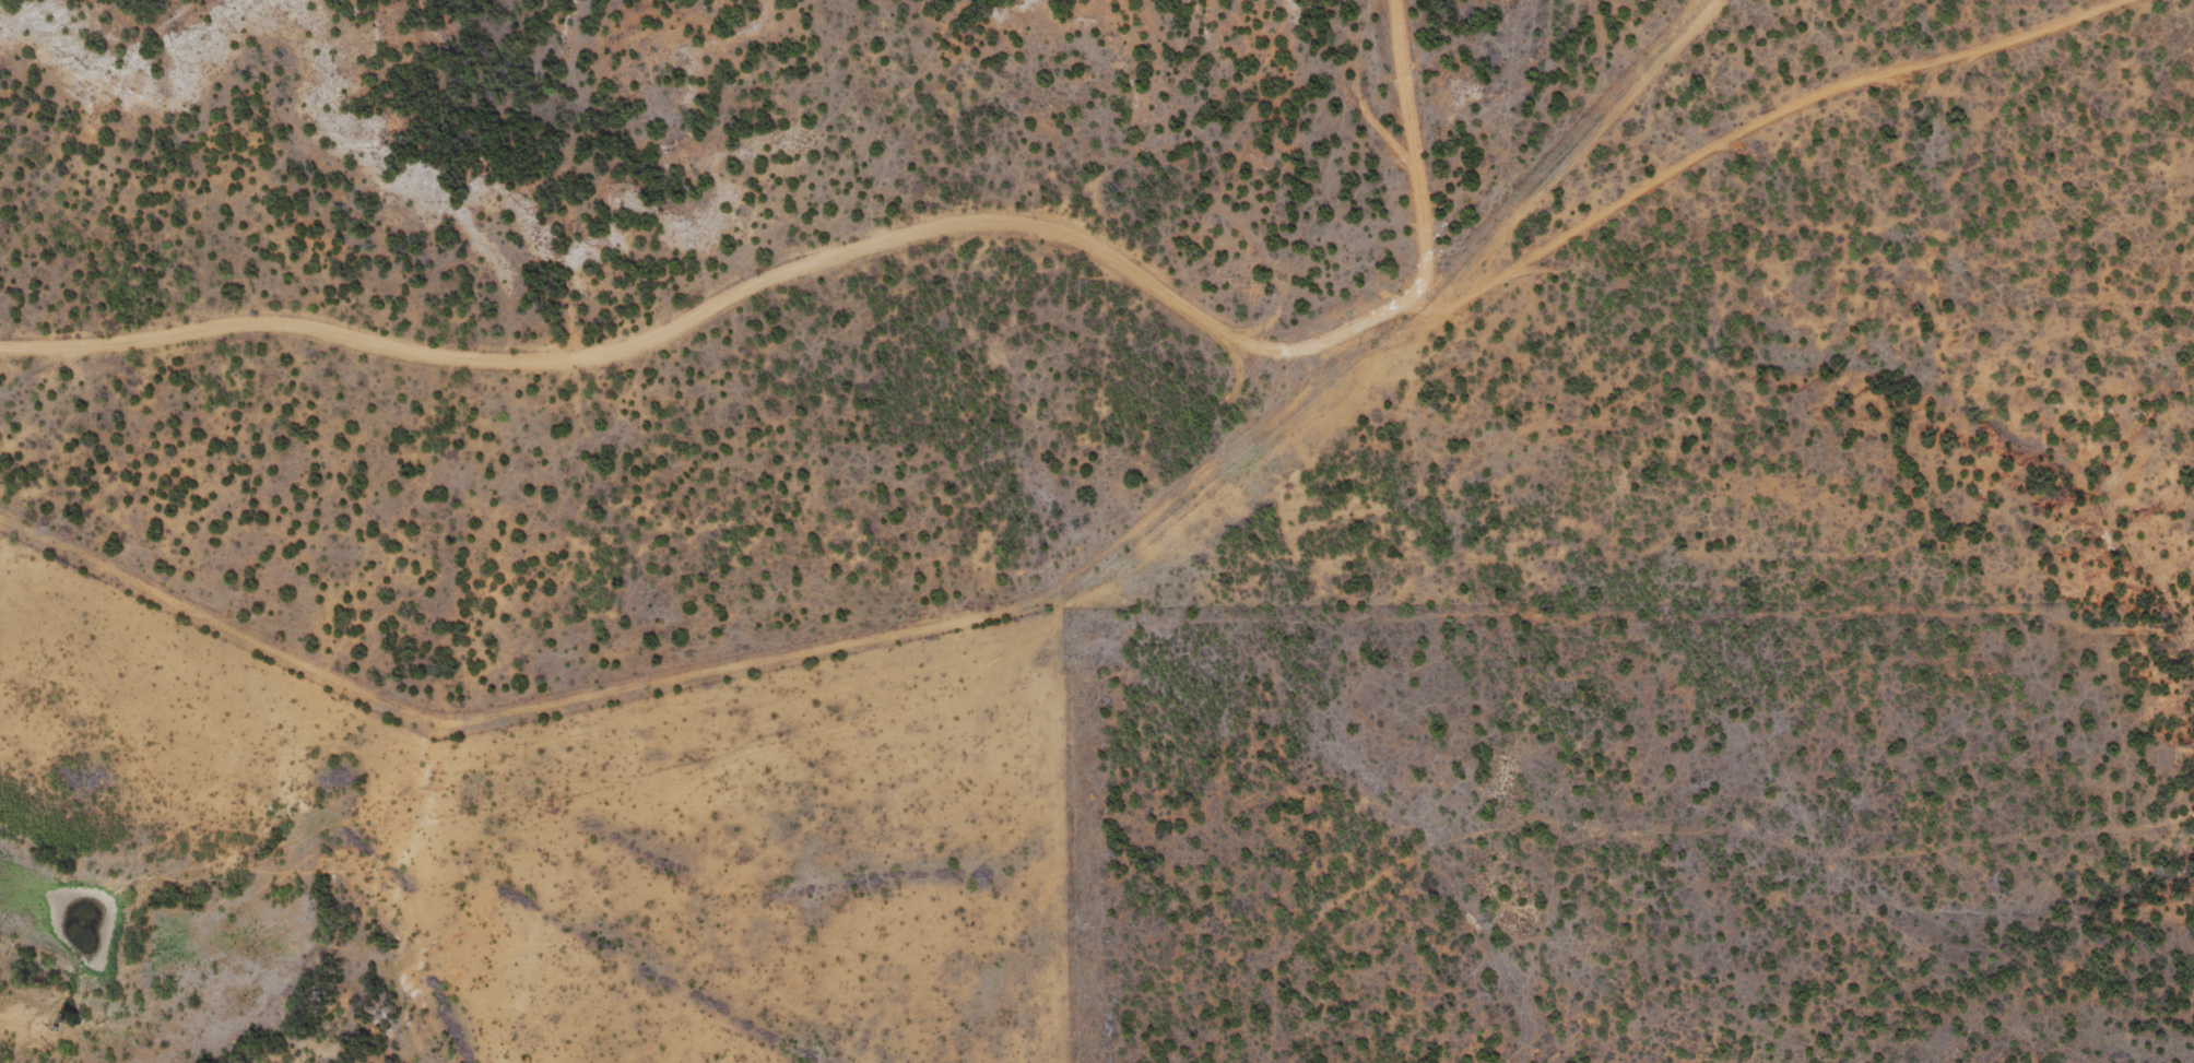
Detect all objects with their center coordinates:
road: (1391, 156)
road: (1099, 279)

